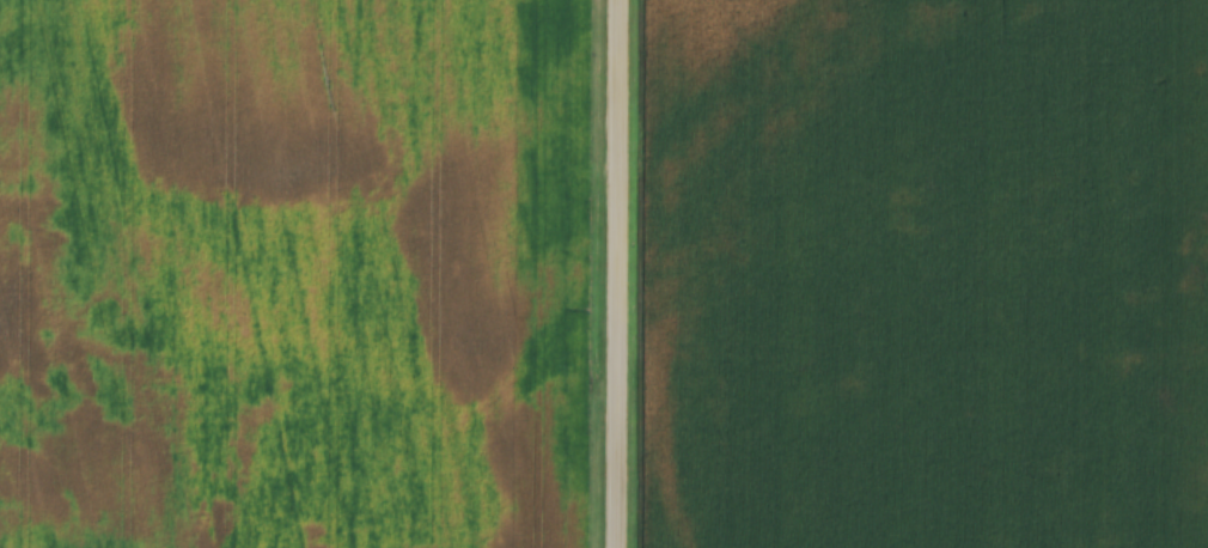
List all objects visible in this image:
road: (620, 274)

